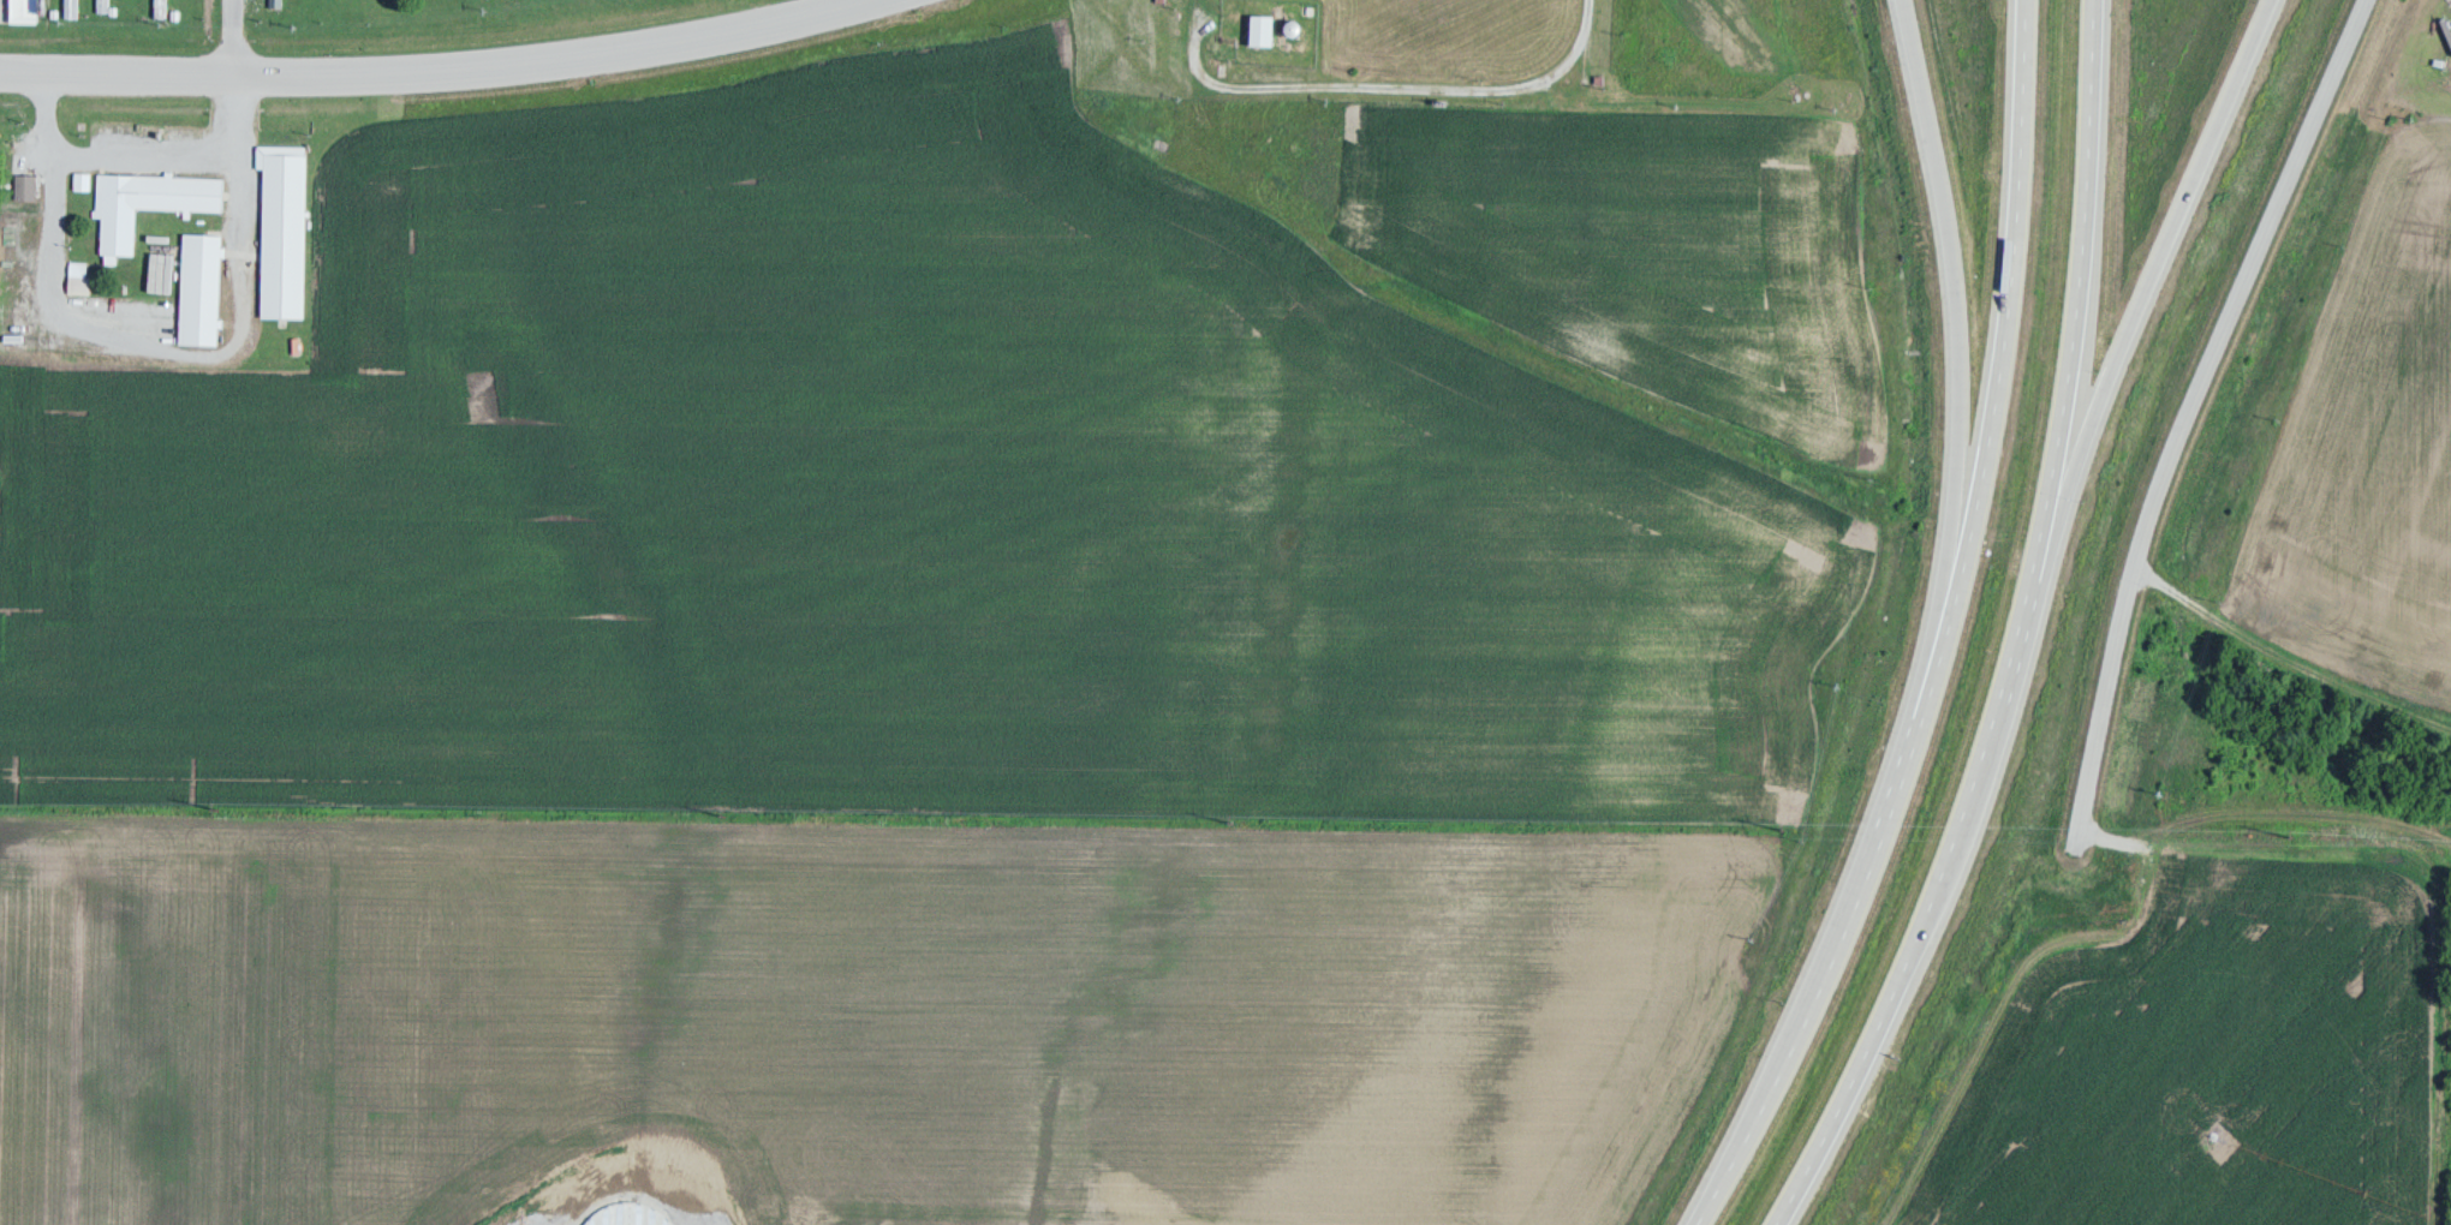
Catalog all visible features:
building: (106, 5)
building: (74, 7)
building: (163, 8)
building: (285, 10)
building: (28, 11)
building: (339, 11)
building: (377, 11)
building: (311, 12)
building: (1268, 29)
road: (431, 68)
building: (185, 133)
building: (85, 179)
building: (150, 202)
building: (290, 239)
building: (204, 287)
road: (2135, 310)
road: (1956, 390)
road: (2196, 414)
road: (2023, 631)
road: (1949, 635)

